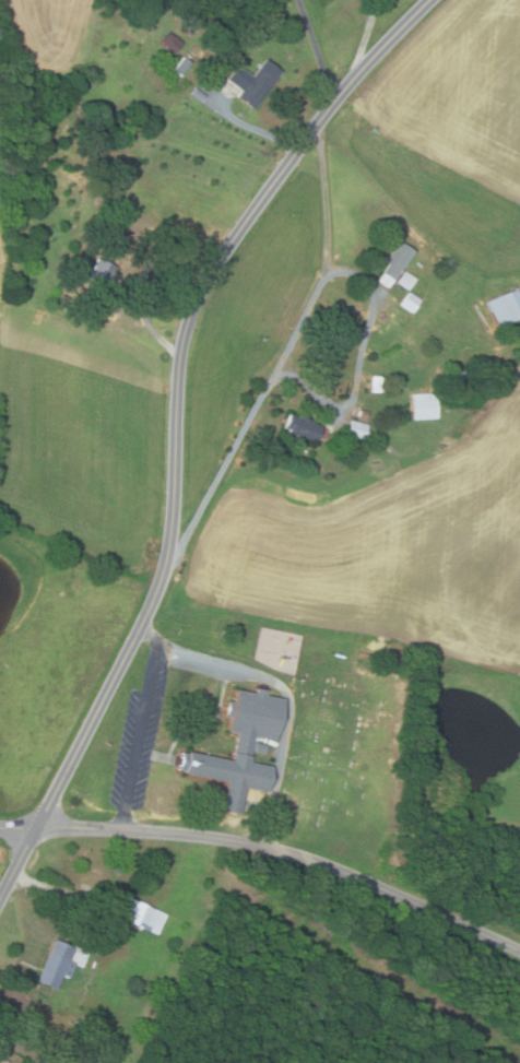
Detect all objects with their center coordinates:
building: (181, 11)
building: (152, 27)
building: (182, 31)
crop: (49, 34)
road: (366, 35)
building: (169, 43)
road: (318, 49)
building: (180, 66)
building: (252, 83)
building: (197, 94)
crop: (458, 94)
road: (253, 128)
building: (110, 182)
building: (96, 198)
crop: (1, 228)
road: (164, 260)
building: (393, 263)
building: (102, 272)
building: (404, 280)
building: (91, 291)
building: (409, 303)
building: (62, 306)
building: (505, 306)
road: (146, 320)
road: (283, 356)
road: (359, 362)
building: (457, 378)
building: (377, 383)
building: (422, 405)
building: (362, 414)
building: (495, 420)
road: (176, 428)
building: (303, 428)
building: (355, 429)
crop: (389, 552)
road: (151, 637)
road: (209, 665)
parking lot: (139, 737)
building: (239, 746)
building: (260, 747)
park: (341, 761)
road: (269, 849)
crop: (2, 852)
building: (117, 870)
road: (62, 893)
building: (142, 914)
building: (108, 940)
building: (55, 964)
road: (26, 1048)
building: (3, 1061)

